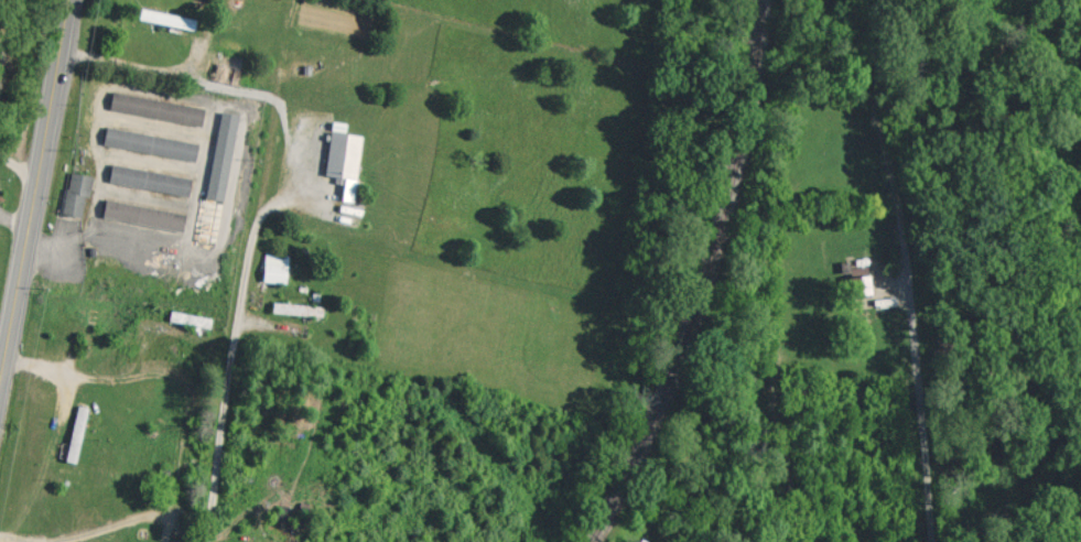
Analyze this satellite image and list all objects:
building: (172, 20)
road: (1, 64)
building: (226, 69)
building: (156, 108)
building: (226, 133)
building: (150, 143)
road: (15, 162)
building: (344, 162)
building: (149, 180)
road: (35, 193)
building: (76, 194)
building: (143, 215)
building: (275, 268)
railway: (705, 279)
building: (858, 282)
road: (909, 293)
building: (296, 308)
road: (233, 377)
building: (76, 433)
building: (641, 540)

